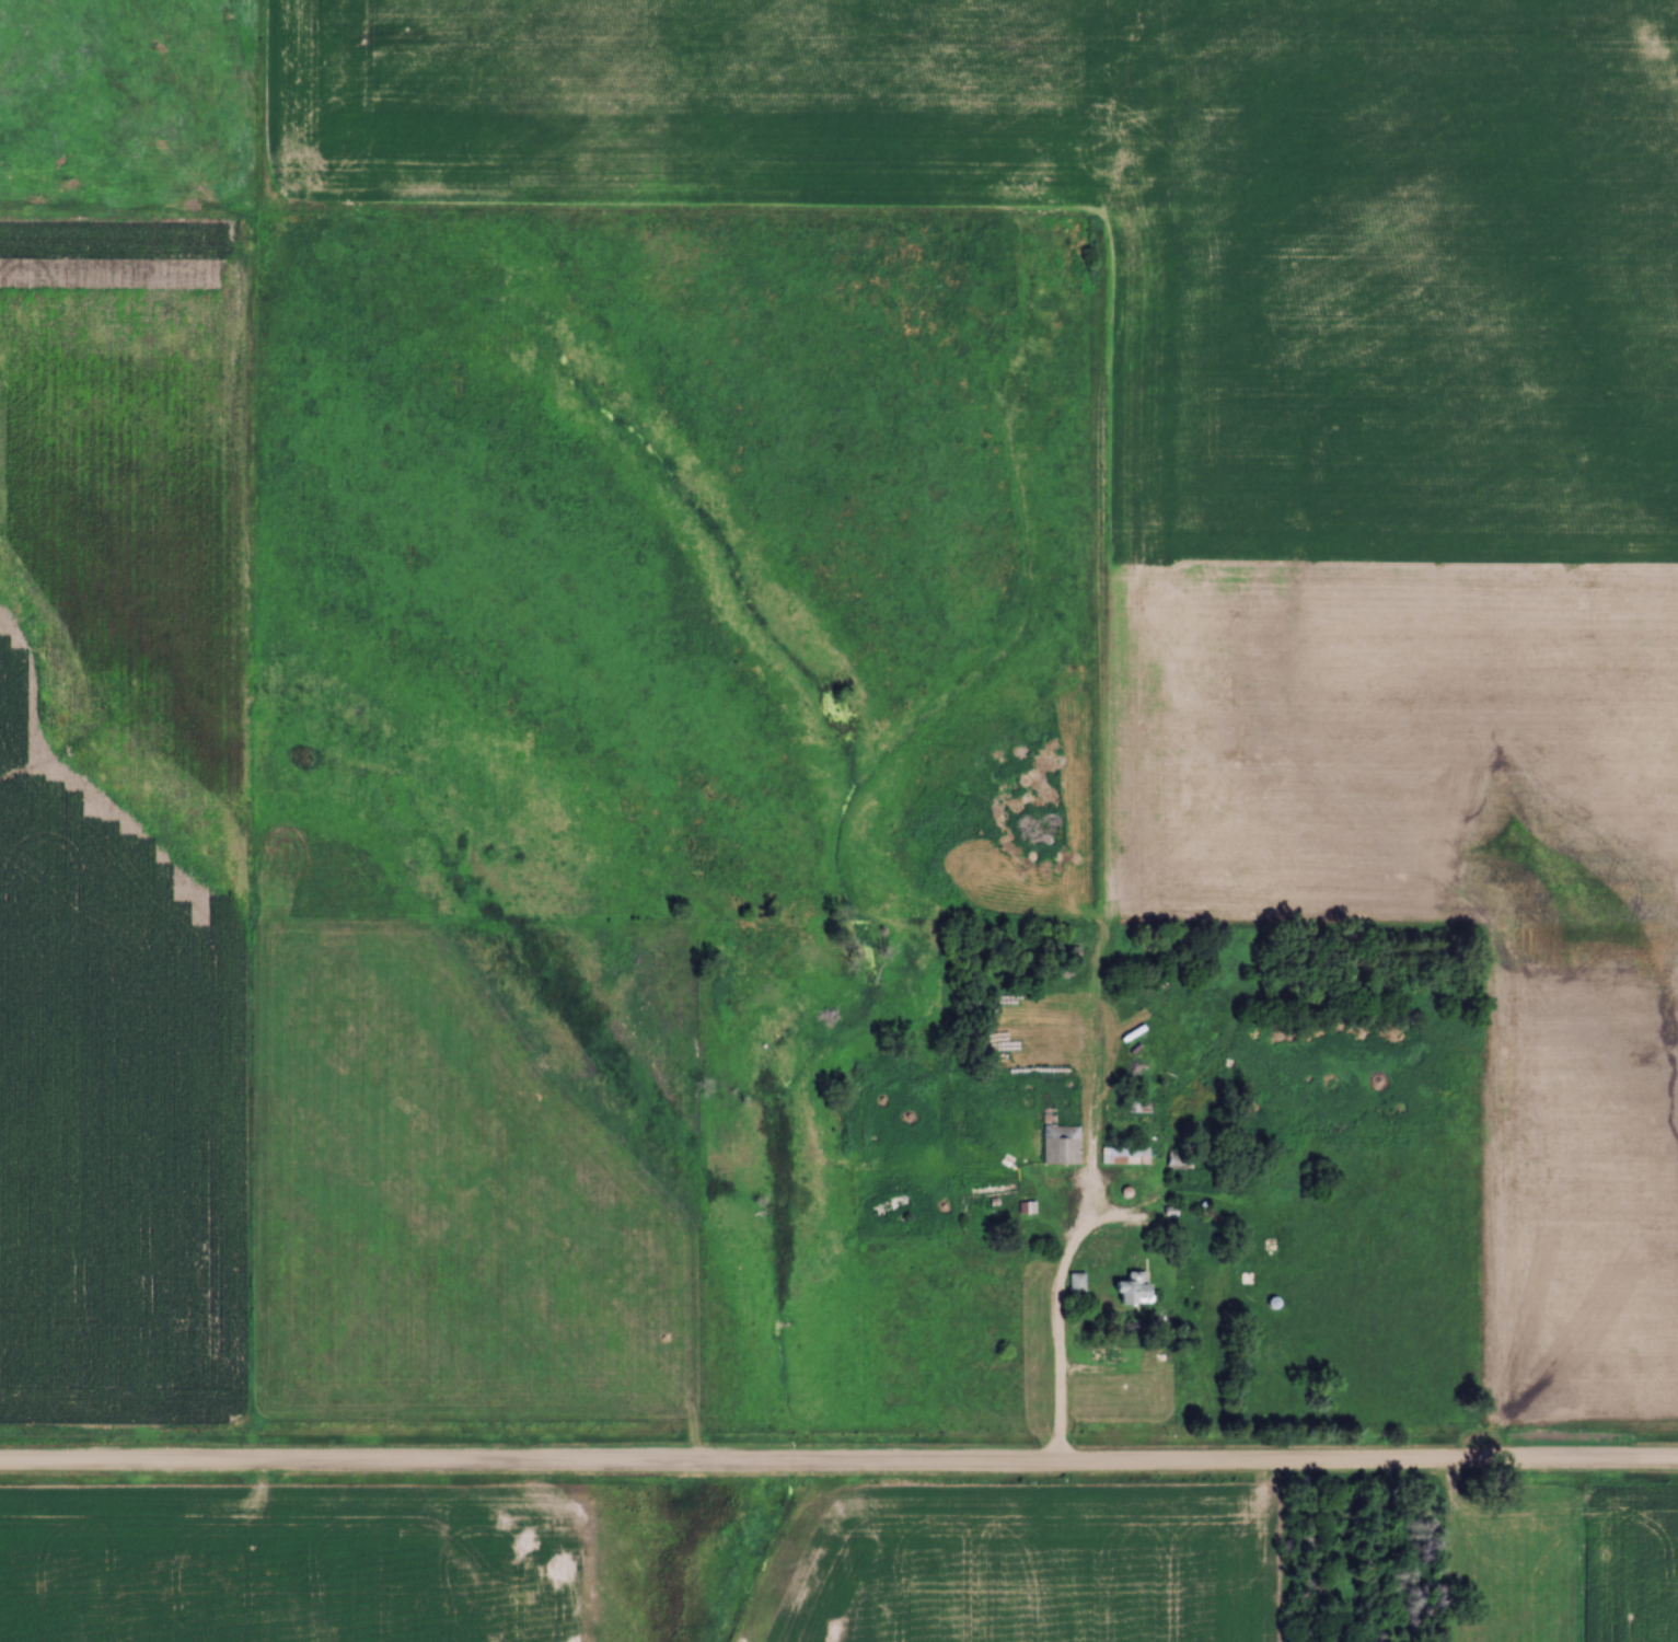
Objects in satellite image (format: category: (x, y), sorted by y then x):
building: (1061, 1145)
building: (1126, 1155)
building: (1076, 1283)
building: (1129, 1290)
building: (1270, 1304)
road: (1057, 1319)
road: (838, 1467)

